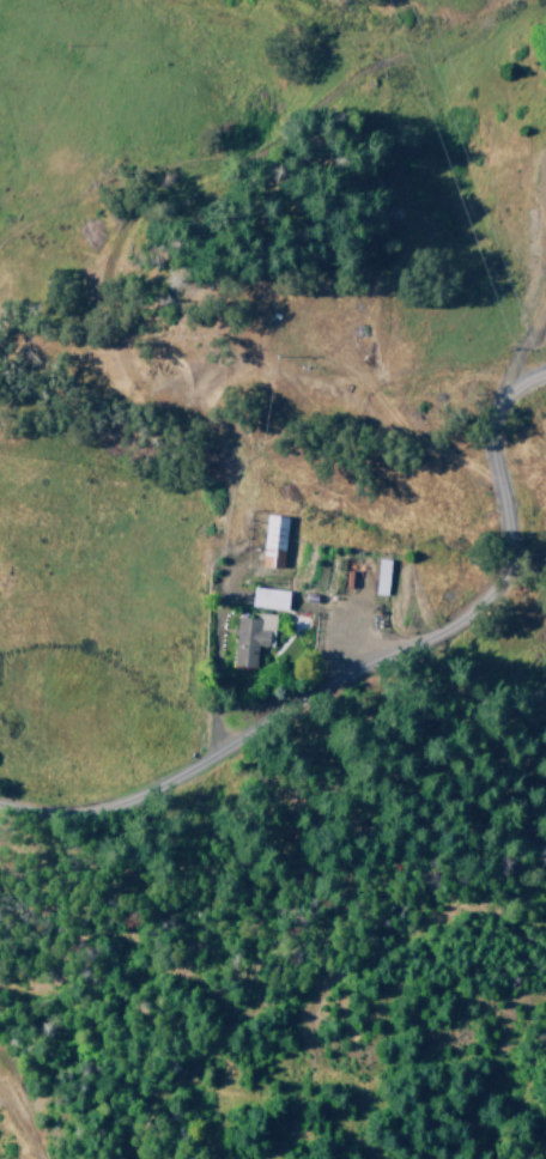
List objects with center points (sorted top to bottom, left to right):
road: (544, 208)
building: (274, 540)
building: (382, 576)
building: (271, 597)
building: (251, 638)
road: (394, 662)

